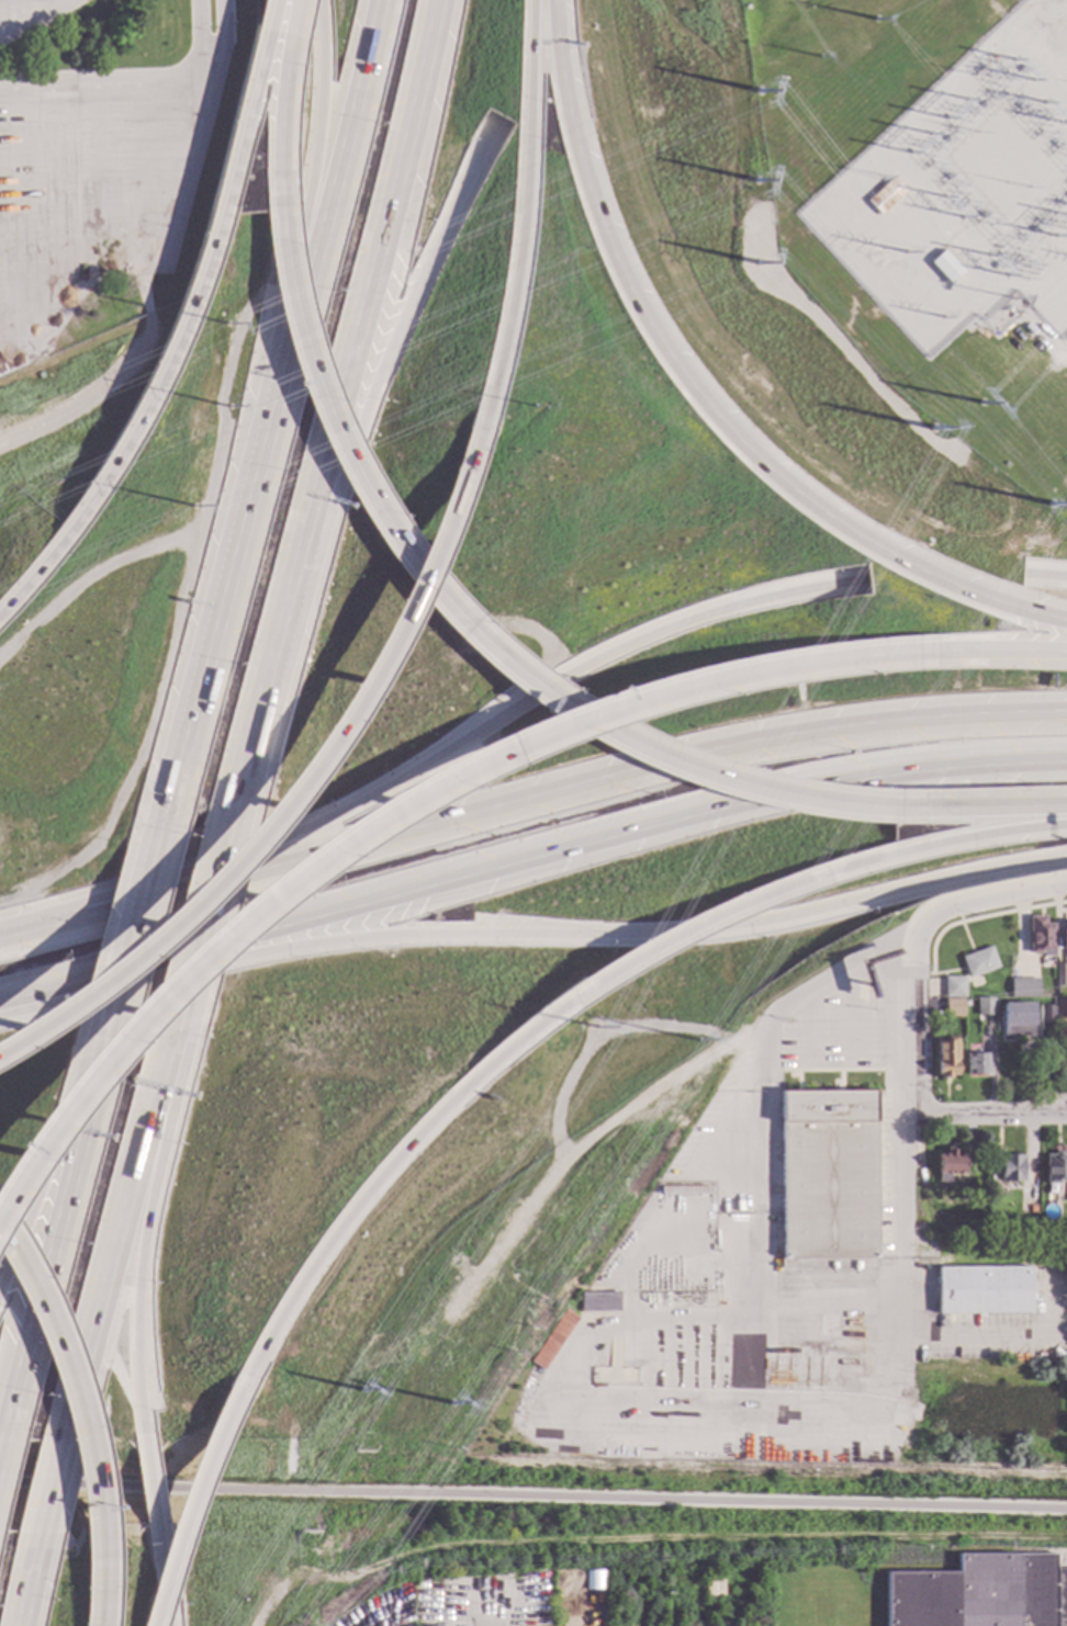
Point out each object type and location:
road: (53, 7)
parking lot: (31, 15)
road: (12, 18)
power tower: (875, 19)
road: (38, 22)
road: (200, 39)
road: (225, 39)
power tower: (816, 58)
power tower: (1023, 75)
road: (106, 78)
power tower: (760, 91)
road: (280, 92)
power tower: (955, 109)
power tower: (1054, 112)
power tower: (919, 144)
road: (405, 147)
road: (142, 171)
road: (312, 172)
road: (336, 172)
road: (97, 176)
power tower: (756, 180)
parking lot: (94, 185)
power substation: (966, 193)
building: (884, 196)
road: (57, 199)
road: (520, 207)
power tower: (956, 207)
road: (14, 221)
power tower: (1062, 228)
power tower: (906, 253)
power tower: (761, 262)
road: (155, 264)
power tower: (997, 266)
building: (945, 267)
road: (400, 310)
power tower: (942, 317)
power tower: (227, 323)
road: (181, 326)
road: (114, 383)
road: (700, 399)
road: (344, 402)
power tower: (232, 406)
power tower: (978, 407)
power tower: (932, 429)
road: (362, 485)
power tower: (1054, 504)
power tower: (193, 506)
road: (1045, 576)
road: (222, 595)
road: (1001, 651)
road: (276, 657)
road: (469, 741)
road: (304, 778)
road: (729, 780)
road: (566, 790)
road: (981, 810)
road: (397, 811)
road: (939, 848)
road: (563, 850)
road: (988, 899)
road: (37, 926)
road: (203, 928)
road: (699, 933)
road: (569, 934)
building: (1040, 936)
building: (1064, 936)
road: (122, 960)
building: (977, 962)
building: (1059, 974)
building: (953, 986)
building: (1023, 987)
building: (861, 991)
road: (34, 992)
building: (1060, 992)
building: (984, 1006)
building: (952, 1008)
building: (1060, 1009)
road: (847, 1012)
building: (1044, 1014)
building: (1015, 1019)
road: (916, 1021)
road: (765, 1024)
road: (802, 1028)
power tower: (598, 1029)
power tower: (698, 1041)
building: (945, 1058)
building: (976, 1064)
road: (831, 1070)
road: (896, 1096)
road: (992, 1110)
road: (722, 1111)
road: (385, 1165)
building: (946, 1165)
building: (1007, 1167)
building: (1055, 1167)
building: (827, 1174)
road: (40, 1178)
building: (1066, 1187)
building: (684, 1190)
building: (1025, 1206)
building: (1051, 1208)
road: (139, 1240)
road: (114, 1246)
road: (44, 1249)
road: (26, 1278)
building: (984, 1289)
building: (599, 1301)
building: (555, 1340)
power tower: (361, 1391)
power tower: (450, 1404)
road: (91, 1473)
road: (148, 1480)
road: (533, 1495)
road: (47, 1498)
road: (189, 1506)
road: (647, 1538)
road: (158, 1542)
road: (1060, 1561)
building: (593, 1581)
road: (164, 1588)
building: (712, 1588)
road: (29, 1589)
building: (752, 1592)
building: (980, 1593)
road: (168, 1624)

